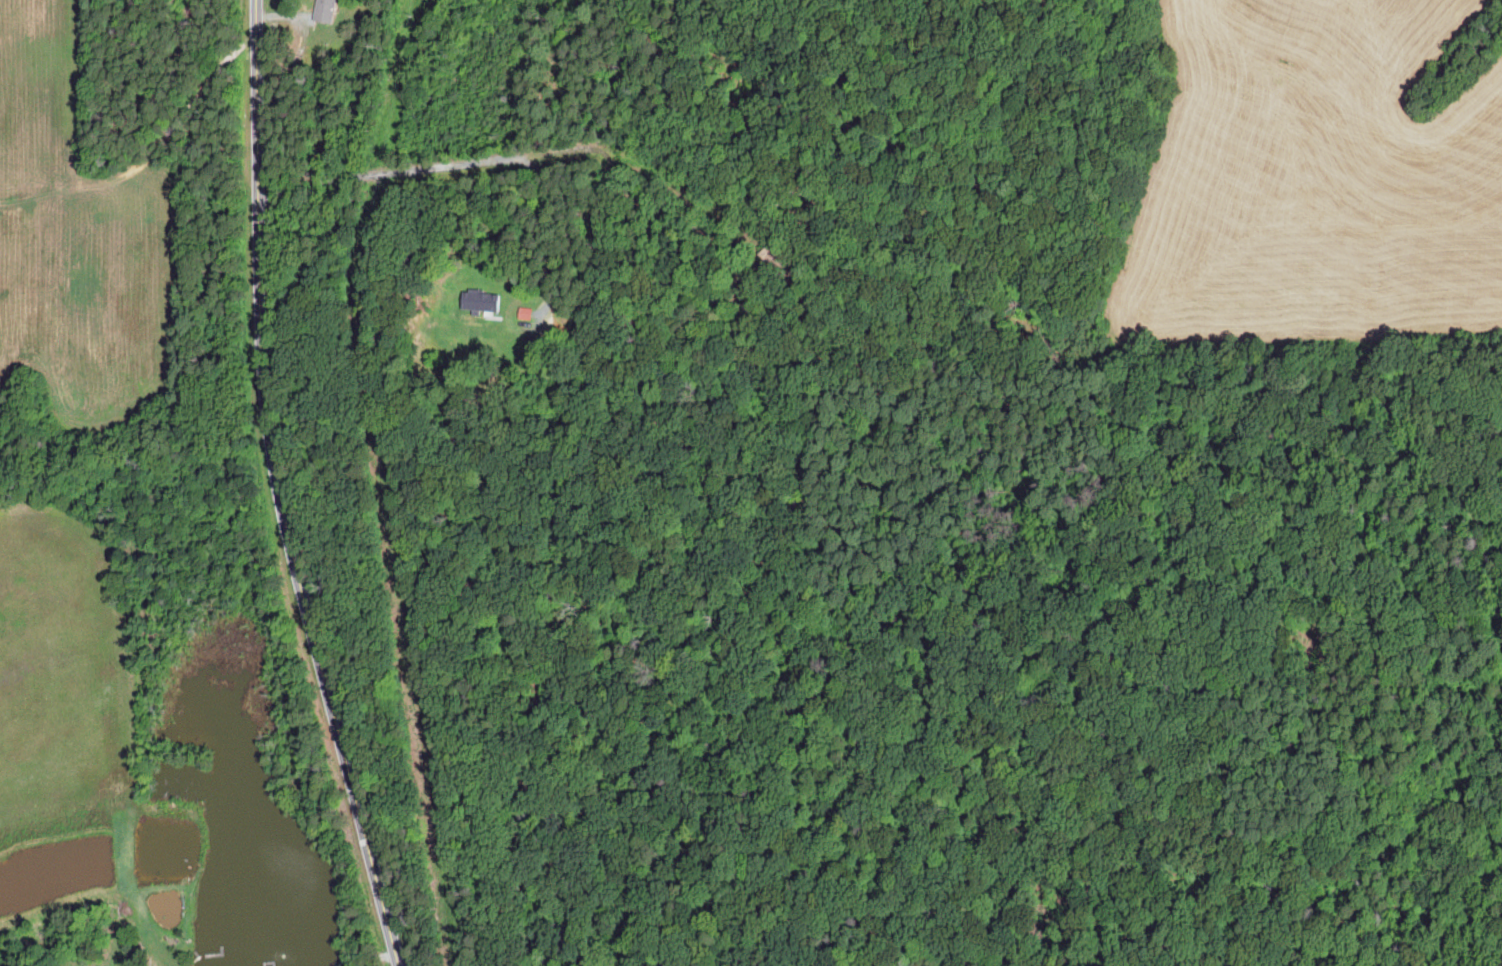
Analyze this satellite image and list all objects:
building: (323, 11)
road: (475, 162)
building: (480, 301)
building: (524, 313)
road: (281, 489)
road: (366, 951)

